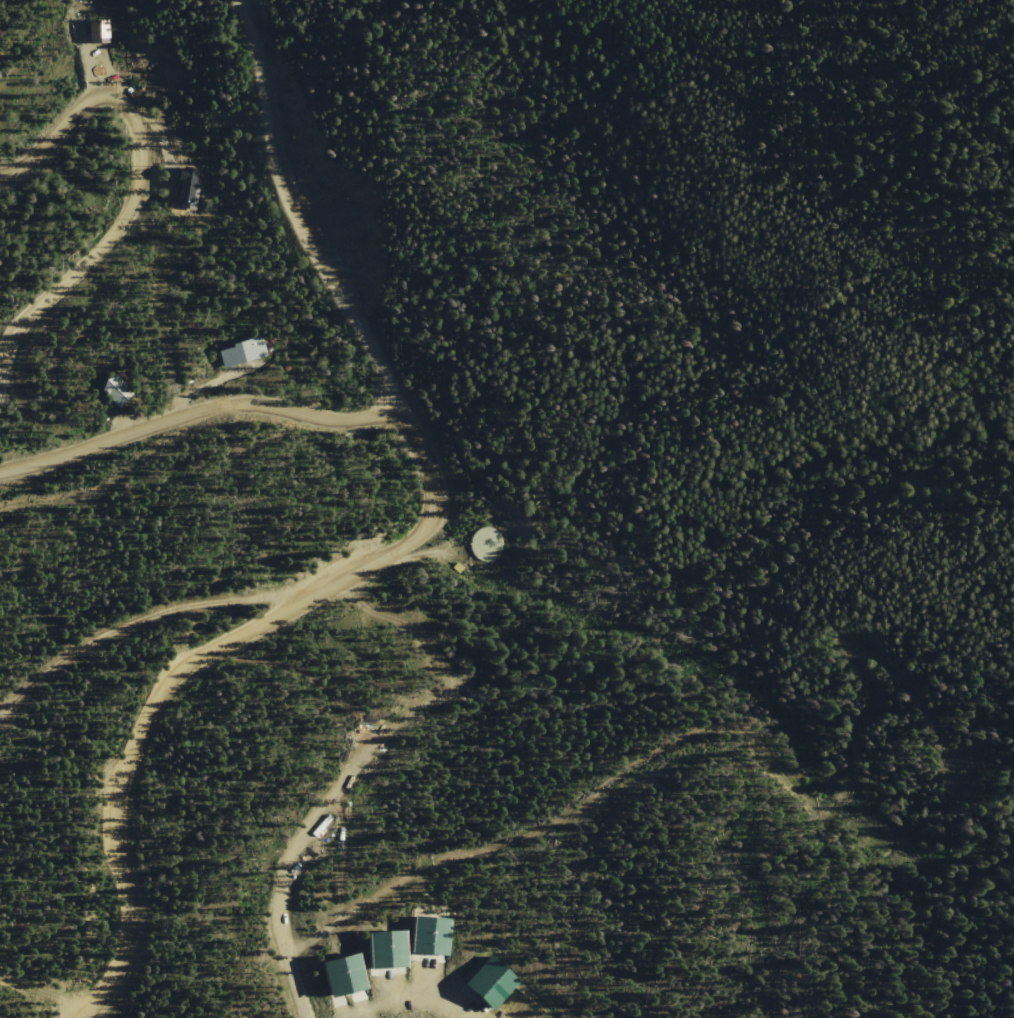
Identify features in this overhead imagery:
building: (98, 34)
road: (139, 178)
building: (184, 188)
road: (295, 215)
building: (243, 352)
building: (117, 390)
road: (197, 412)
building: (485, 542)
storage tank: (485, 542)
building: (457, 567)
road: (145, 620)
road: (410, 629)
road: (196, 660)
road: (304, 834)
building: (432, 935)
building: (388, 949)
building: (344, 976)
building: (492, 983)
road: (407, 996)

